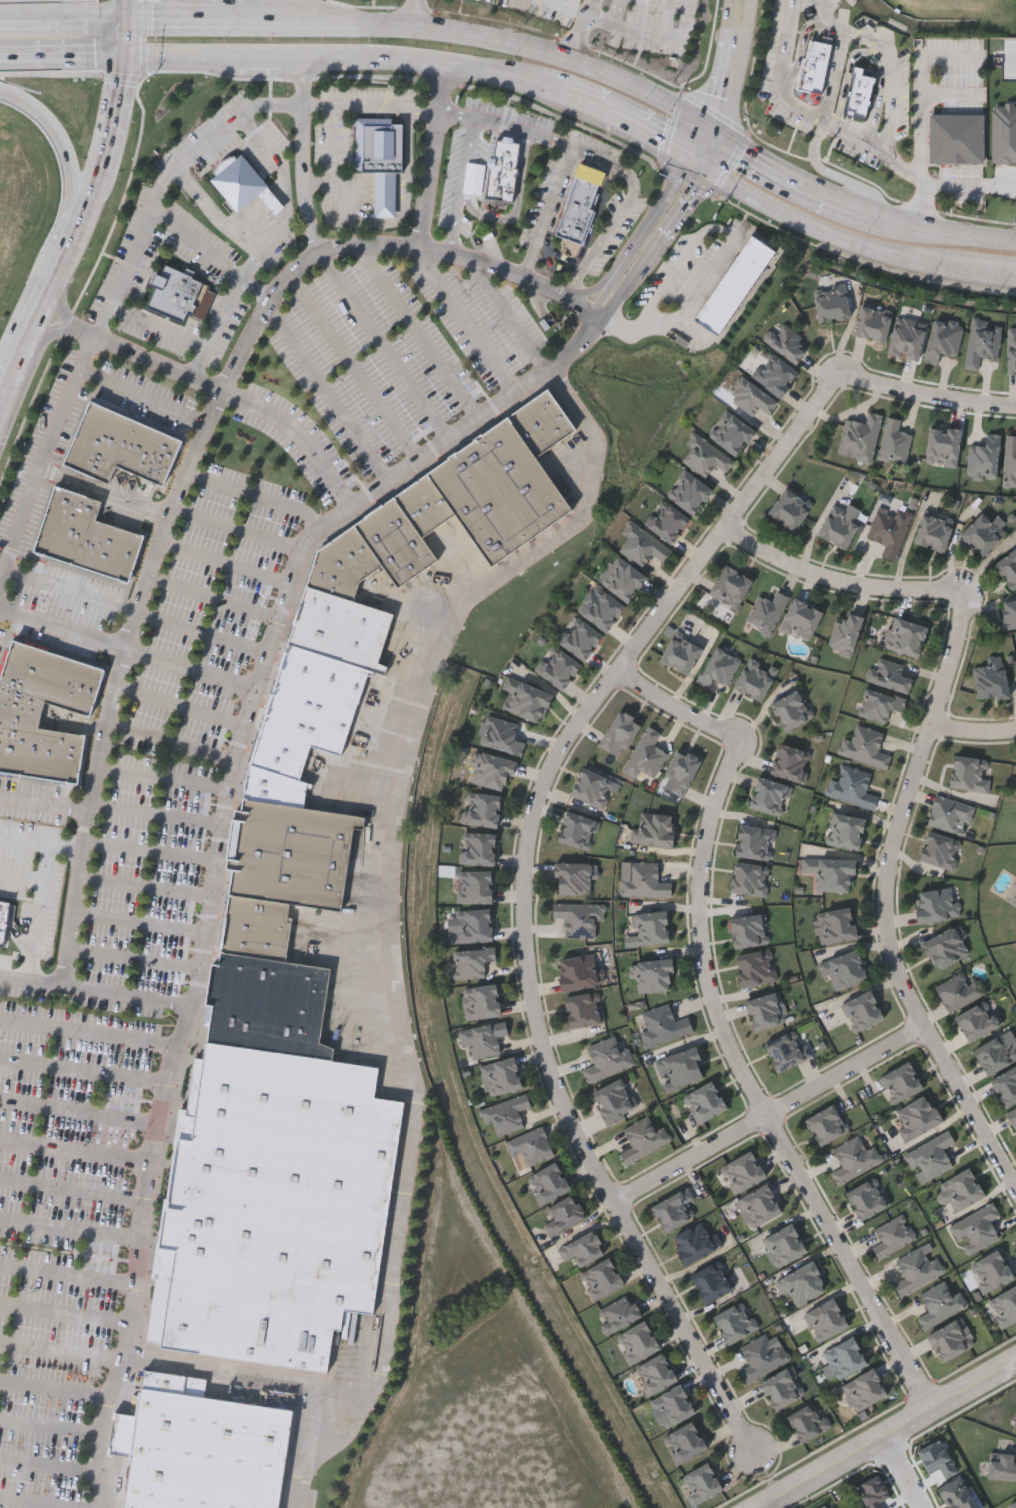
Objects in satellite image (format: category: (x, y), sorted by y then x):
road: (276, 4)
road: (575, 4)
road: (268, 7)
road: (592, 9)
road: (124, 10)
road: (418, 13)
road: (583, 17)
road: (62, 18)
traffic signals: (125, 20)
road: (254, 22)
road: (650, 32)
road: (124, 38)
road: (555, 53)
road: (62, 55)
road: (180, 56)
traffic signals: (124, 57)
road: (267, 57)
road: (887, 57)
road: (433, 63)
road: (731, 63)
road: (836, 75)
building: (860, 93)
road: (953, 97)
road: (584, 107)
road: (244, 111)
road: (921, 117)
building: (1011, 124)
traffic signals: (713, 125)
road: (853, 136)
building: (956, 137)
road: (649, 139)
road: (333, 143)
road: (704, 145)
road: (305, 156)
road: (431, 156)
building: (380, 157)
road: (278, 164)
traffic signals: (695, 165)
road: (102, 166)
building: (502, 170)
road: (830, 172)
road: (786, 173)
building: (1006, 173)
road: (384, 176)
road: (401, 176)
road: (359, 179)
road: (320, 182)
road: (338, 182)
building: (242, 183)
road: (359, 183)
road: (384, 184)
road: (401, 184)
road: (464, 186)
road: (359, 187)
road: (359, 190)
road: (384, 192)
road: (401, 192)
road: (357, 197)
road: (384, 199)
road: (400, 199)
building: (580, 203)
road: (921, 205)
road: (384, 207)
road: (400, 207)
road: (548, 212)
road: (63, 214)
road: (215, 214)
road: (404, 216)
road: (940, 231)
road: (825, 234)
road: (638, 236)
road: (653, 245)
road: (265, 253)
road: (212, 254)
road: (284, 254)
road: (679, 263)
road: (992, 273)
building: (734, 283)
building: (179, 293)
road: (62, 298)
building: (832, 303)
road: (43, 308)
road: (683, 313)
road: (509, 316)
road: (467, 319)
building: (873, 323)
road: (157, 325)
road: (216, 328)
road: (420, 330)
road: (46, 334)
building: (788, 343)
road: (381, 345)
road: (146, 356)
road: (354, 366)
road: (13, 374)
building: (775, 374)
road: (327, 391)
road: (141, 396)
road: (928, 396)
building: (753, 398)
road: (1, 402)
building: (541, 422)
road: (295, 432)
building: (734, 434)
building: (861, 437)
building: (895, 440)
building: (119, 445)
building: (943, 446)
building: (708, 458)
building: (1010, 460)
road: (181, 490)
building: (499, 490)
road: (104, 492)
building: (689, 492)
road: (257, 496)
building: (424, 505)
building: (790, 508)
building: (668, 522)
building: (838, 527)
road: (239, 528)
building: (890, 529)
building: (933, 531)
building: (982, 533)
building: (85, 534)
building: (396, 541)
building: (643, 545)
road: (226, 562)
building: (343, 564)
building: (1008, 567)
building: (621, 577)
road: (841, 580)
building: (730, 586)
road: (71, 589)
road: (214, 596)
building: (601, 609)
building: (768, 612)
building: (1009, 613)
building: (801, 620)
building: (341, 628)
road: (200, 631)
building: (845, 633)
building: (908, 638)
building: (580, 639)
road: (126, 646)
building: (680, 654)
building: (720, 667)
building: (559, 668)
building: (891, 674)
building: (755, 678)
building: (991, 679)
building: (314, 698)
building: (527, 699)
road: (178, 704)
building: (880, 704)
road: (679, 708)
building: (791, 709)
building: (20, 711)
road: (242, 727)
road: (976, 731)
building: (620, 734)
building: (501, 735)
road: (170, 739)
building: (866, 746)
road: (562, 751)
building: (279, 753)
building: (647, 755)
building: (791, 762)
building: (681, 770)
building: (492, 771)
building: (971, 773)
road: (161, 777)
building: (274, 786)
building: (853, 786)
building: (592, 788)
building: (770, 795)
road: (43, 804)
building: (483, 809)
road: (156, 814)
building: (951, 814)
building: (656, 828)
building: (578, 830)
building: (847, 830)
building: (755, 841)
road: (41, 842)
building: (478, 848)
road: (151, 849)
building: (940, 850)
building: (295, 854)
building: (832, 872)
road: (23, 877)
building: (574, 877)
building: (750, 877)
building: (645, 880)
building: (475, 886)
road: (146, 887)
road: (886, 898)
building: (1013, 900)
building: (937, 904)
road: (42, 910)
road: (388, 911)
building: (577, 918)
building: (3, 920)
road: (140, 922)
building: (838, 924)
building: (475, 925)
building: (256, 928)
building: (650, 928)
building: (749, 929)
building: (946, 947)
road: (134, 959)
building: (473, 961)
building: (757, 968)
building: (845, 969)
building: (577, 972)
building: (653, 974)
building: (959, 991)
road: (127, 992)
building: (481, 1001)
building: (267, 1006)
building: (584, 1009)
building: (862, 1009)
building: (766, 1011)
building: (977, 1019)
building: (663, 1025)
road: (89, 1031)
building: (484, 1039)
building: (787, 1050)
building: (996, 1054)
building: (608, 1058)
building: (680, 1069)
road: (83, 1071)
building: (502, 1076)
building: (901, 1082)
building: (1006, 1086)
road: (756, 1090)
building: (616, 1101)
building: (706, 1101)
road: (772, 1113)
building: (507, 1115)
building: (1013, 1116)
building: (918, 1117)
building: (826, 1124)
building: (644, 1139)
building: (532, 1145)
road: (75, 1152)
building: (932, 1157)
building: (855, 1158)
building: (744, 1171)
building: (550, 1183)
building: (963, 1188)
road: (73, 1190)
building: (867, 1198)
building: (760, 1205)
building: (273, 1207)
building: (675, 1209)
building: (564, 1215)
building: (977, 1227)
road: (71, 1229)
building: (894, 1236)
building: (695, 1243)
building: (784, 1244)
building: (583, 1248)
building: (918, 1268)
building: (992, 1271)
road: (68, 1274)
building: (602, 1278)
building: (712, 1281)
building: (803, 1283)
building: (940, 1304)
building: (1005, 1306)
road: (64, 1312)
building: (619, 1313)
road: (129, 1316)
building: (825, 1318)
building: (736, 1322)
road: (687, 1327)
building: (952, 1339)
building: (638, 1341)
road: (60, 1350)
building: (845, 1355)
building: (762, 1357)
road: (246, 1372)
building: (656, 1374)
road: (54, 1388)
building: (782, 1389)
building: (865, 1390)
building: (673, 1406)
building: (809, 1422)
building: (1015, 1423)
road: (50, 1427)
building: (1015, 1427)
road: (887, 1435)
building: (686, 1442)
building: (200, 1447)
building: (1003, 1465)
road: (50, 1466)
road: (910, 1471)
building: (702, 1484)
road: (34, 1502)
building: (1012, 1505)
building: (823, 1506)

